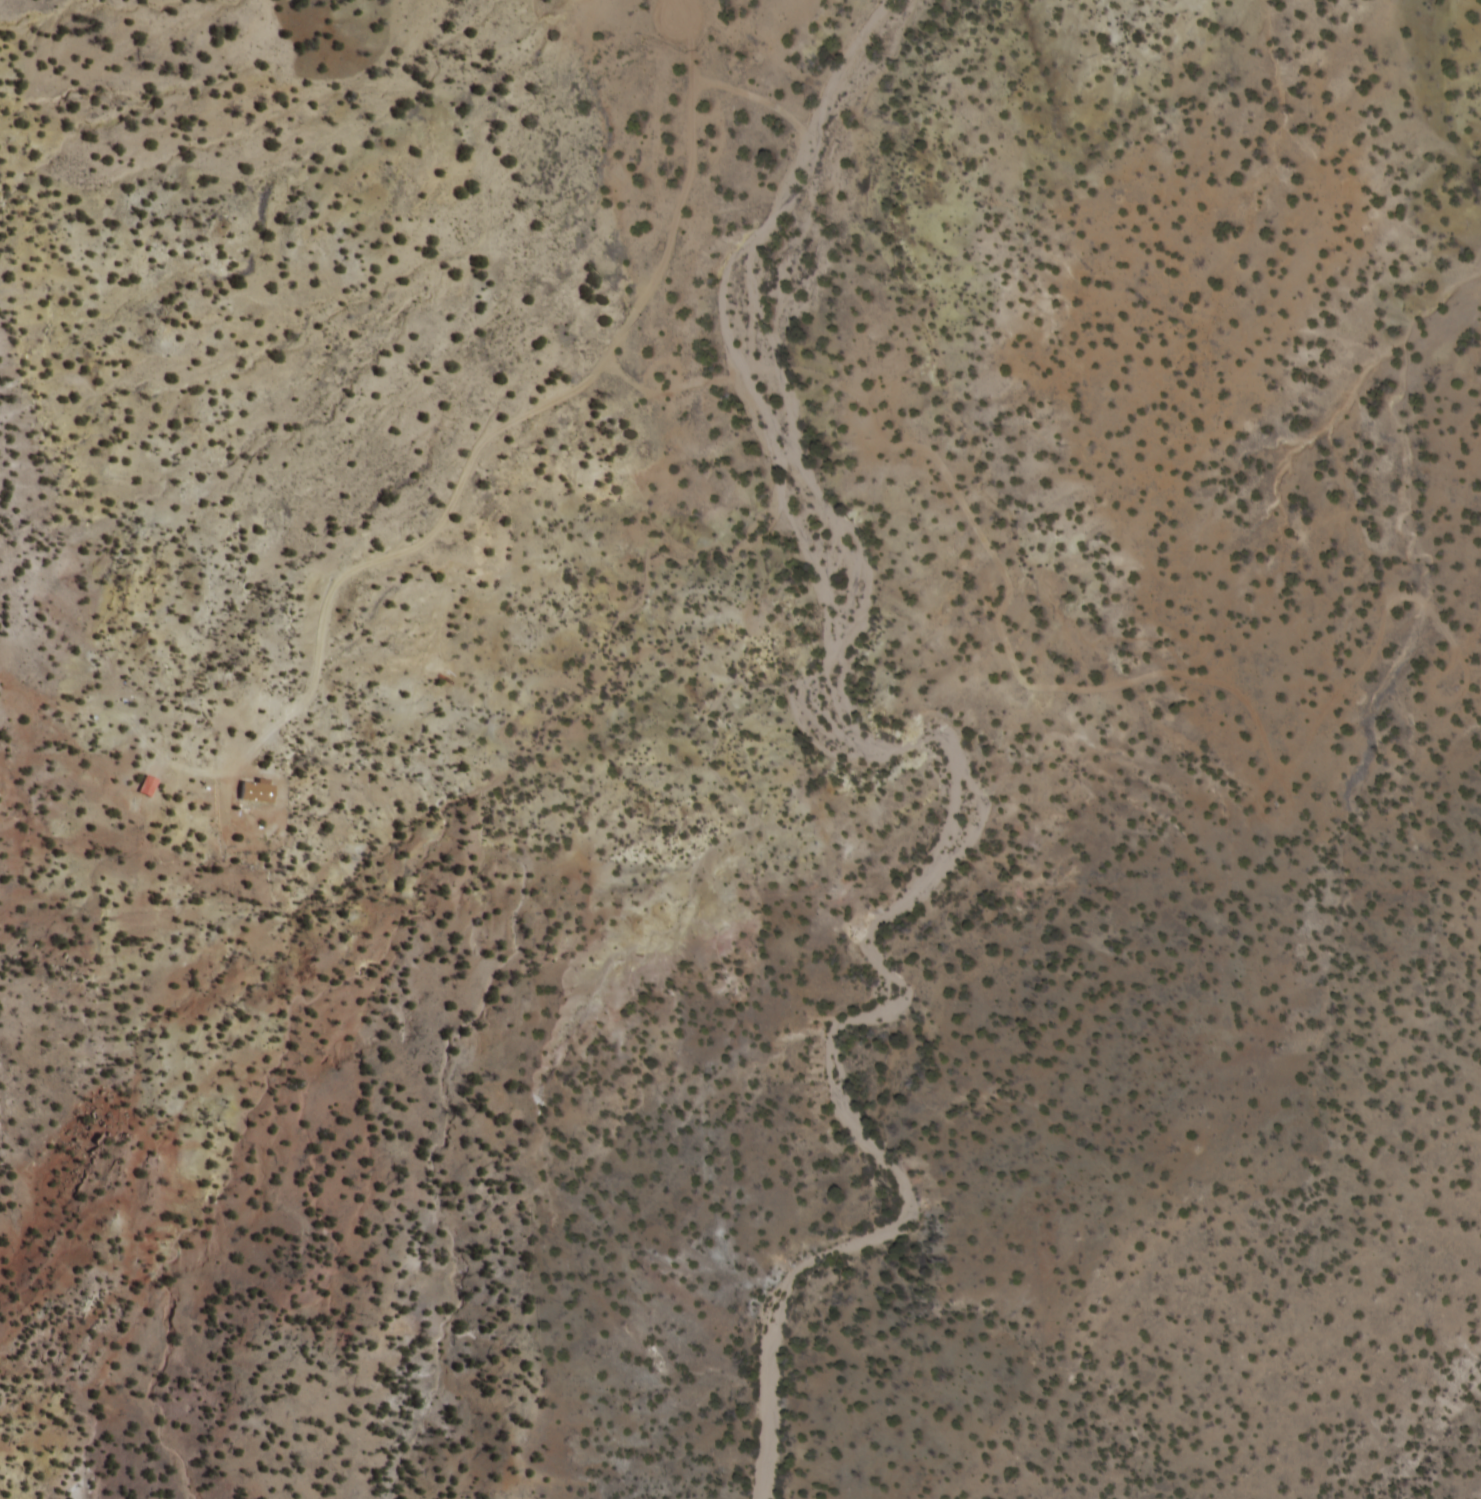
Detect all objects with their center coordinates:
road: (683, 2)
building: (219, 808)

